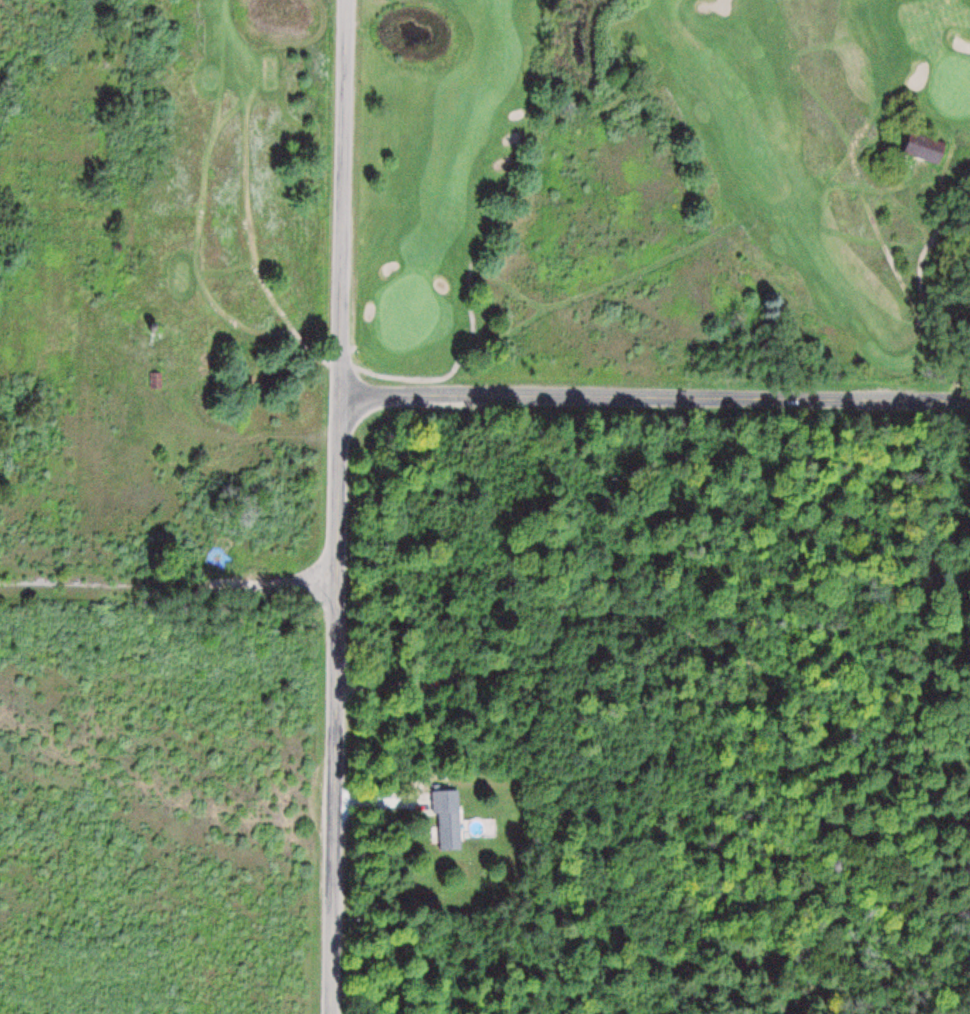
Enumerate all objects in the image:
building: (926, 147)
park: (552, 193)
road: (241, 223)
building: (156, 328)
silo: (156, 328)
road: (288, 335)
building: (156, 378)
road: (655, 395)
road: (338, 506)
building: (447, 818)

